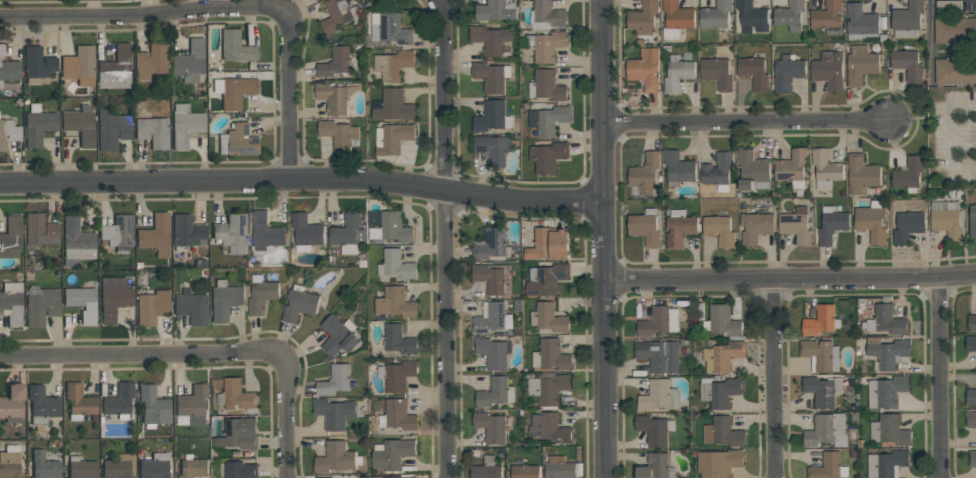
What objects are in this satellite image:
building: (395, 0)
road: (91, 7)
road: (230, 10)
building: (496, 11)
building: (338, 15)
building: (546, 16)
building: (715, 16)
building: (789, 16)
building: (752, 17)
building: (643, 18)
building: (828, 18)
building: (676, 19)
building: (907, 20)
building: (861, 22)
building: (389, 29)
building: (955, 30)
road: (930, 37)
building: (489, 39)
building: (545, 46)
building: (236, 47)
building: (1, 51)
building: (150, 60)
building: (190, 61)
building: (38, 62)
building: (335, 62)
building: (79, 65)
building: (393, 65)
building: (861, 65)
building: (907, 65)
building: (116, 68)
building: (645, 70)
building: (10, 71)
building: (828, 71)
building: (955, 71)
building: (754, 73)
building: (787, 73)
building: (717, 74)
building: (677, 75)
building: (491, 76)
building: (546, 86)
building: (233, 91)
building: (335, 97)
building: (392, 106)
building: (489, 116)
building: (548, 120)
road: (748, 121)
building: (38, 124)
building: (80, 125)
building: (185, 125)
building: (112, 129)
building: (153, 131)
building: (8, 133)
building: (339, 134)
road: (948, 135)
building: (392, 139)
building: (237, 141)
building: (493, 149)
building: (548, 157)
building: (677, 168)
building: (792, 168)
building: (825, 169)
building: (717, 171)
building: (752, 171)
building: (645, 173)
building: (908, 174)
building: (861, 175)
road: (302, 179)
building: (947, 219)
building: (872, 222)
building: (972, 222)
building: (908, 223)
building: (831, 225)
building: (755, 226)
building: (796, 226)
building: (388, 227)
building: (645, 228)
building: (679, 228)
building: (41, 230)
building: (118, 231)
building: (719, 231)
building: (187, 232)
building: (265, 232)
building: (232, 233)
building: (306, 233)
building: (348, 234)
building: (155, 235)
building: (11, 237)
road: (603, 238)
road: (445, 239)
building: (77, 242)
building: (548, 244)
building: (492, 245)
building: (396, 265)
building: (489, 279)
building: (546, 279)
road: (789, 279)
building: (260, 294)
building: (114, 296)
building: (224, 300)
building: (82, 302)
building: (11, 303)
building: (395, 303)
building: (299, 305)
building: (191, 306)
building: (42, 307)
building: (152, 307)
building: (548, 318)
building: (491, 319)
building: (724, 321)
building: (819, 321)
building: (886, 321)
building: (659, 322)
building: (971, 323)
building: (338, 336)
building: (398, 340)
building: (971, 344)
road: (208, 351)
building: (493, 353)
building: (887, 353)
building: (551, 355)
building: (820, 355)
building: (658, 356)
building: (722, 356)
building: (399, 375)
road: (939, 377)
road: (772, 379)
building: (334, 381)
building: (548, 388)
building: (822, 390)
building: (495, 392)
building: (719, 392)
building: (885, 392)
building: (235, 397)
building: (658, 397)
building: (970, 397)
building: (79, 401)
building: (120, 401)
building: (12, 403)
building: (42, 405)
building: (191, 405)
building: (154, 406)
building: (335, 413)
building: (397, 415)
building: (971, 420)
building: (490, 427)
building: (550, 428)
building: (653, 429)
building: (826, 431)
building: (889, 431)
building: (722, 432)
building: (238, 434)
building: (392, 454)
building: (335, 458)
building: (972, 458)
building: (10, 462)
building: (719, 463)
building: (887, 464)
building: (44, 466)
building: (155, 466)
building: (81, 467)
building: (120, 467)
building: (193, 467)
building: (656, 467)
building: (828, 467)
building: (559, 468)
building: (486, 469)
building: (240, 470)
building: (525, 472)
building: (323, 477)
building: (400, 477)

